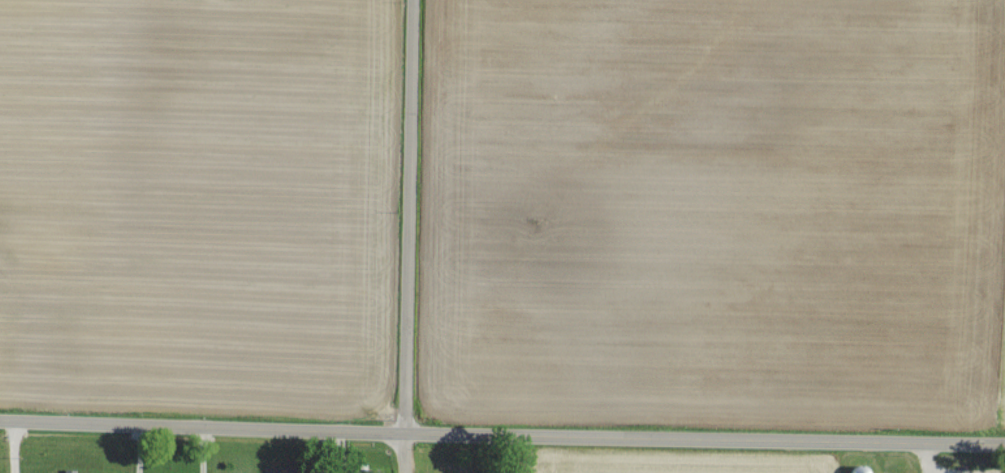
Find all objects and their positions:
road: (408, 236)
road: (502, 437)
road: (18, 447)
road: (140, 449)
road: (205, 450)
building: (861, 469)
building: (68, 470)
building: (50, 472)

